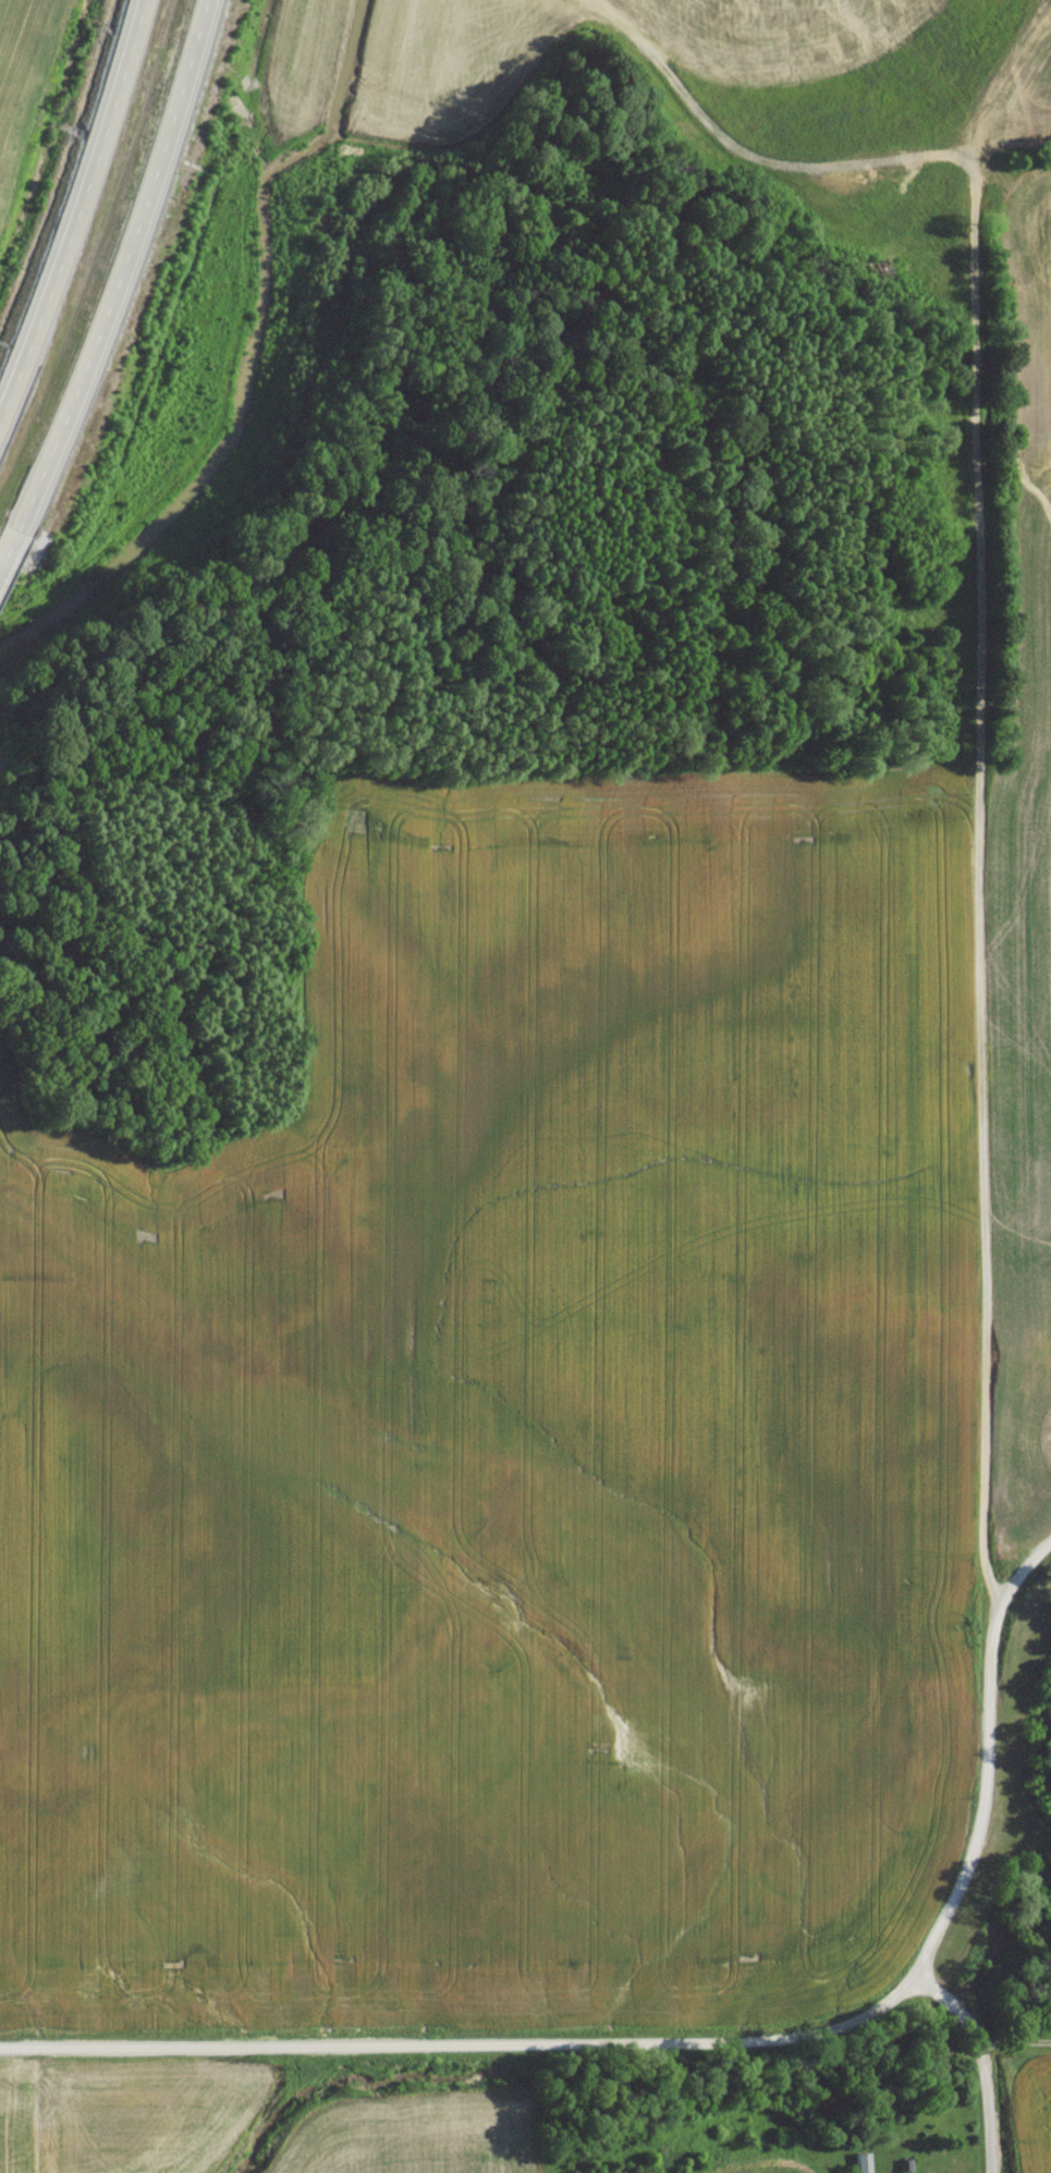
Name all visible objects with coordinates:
road: (76, 208)
road: (126, 267)
road: (12, 552)
road: (978, 956)
road: (1021, 1577)
road: (980, 1799)
road: (535, 2049)
road: (979, 2063)
road: (1018, 2102)
building: (861, 2165)

